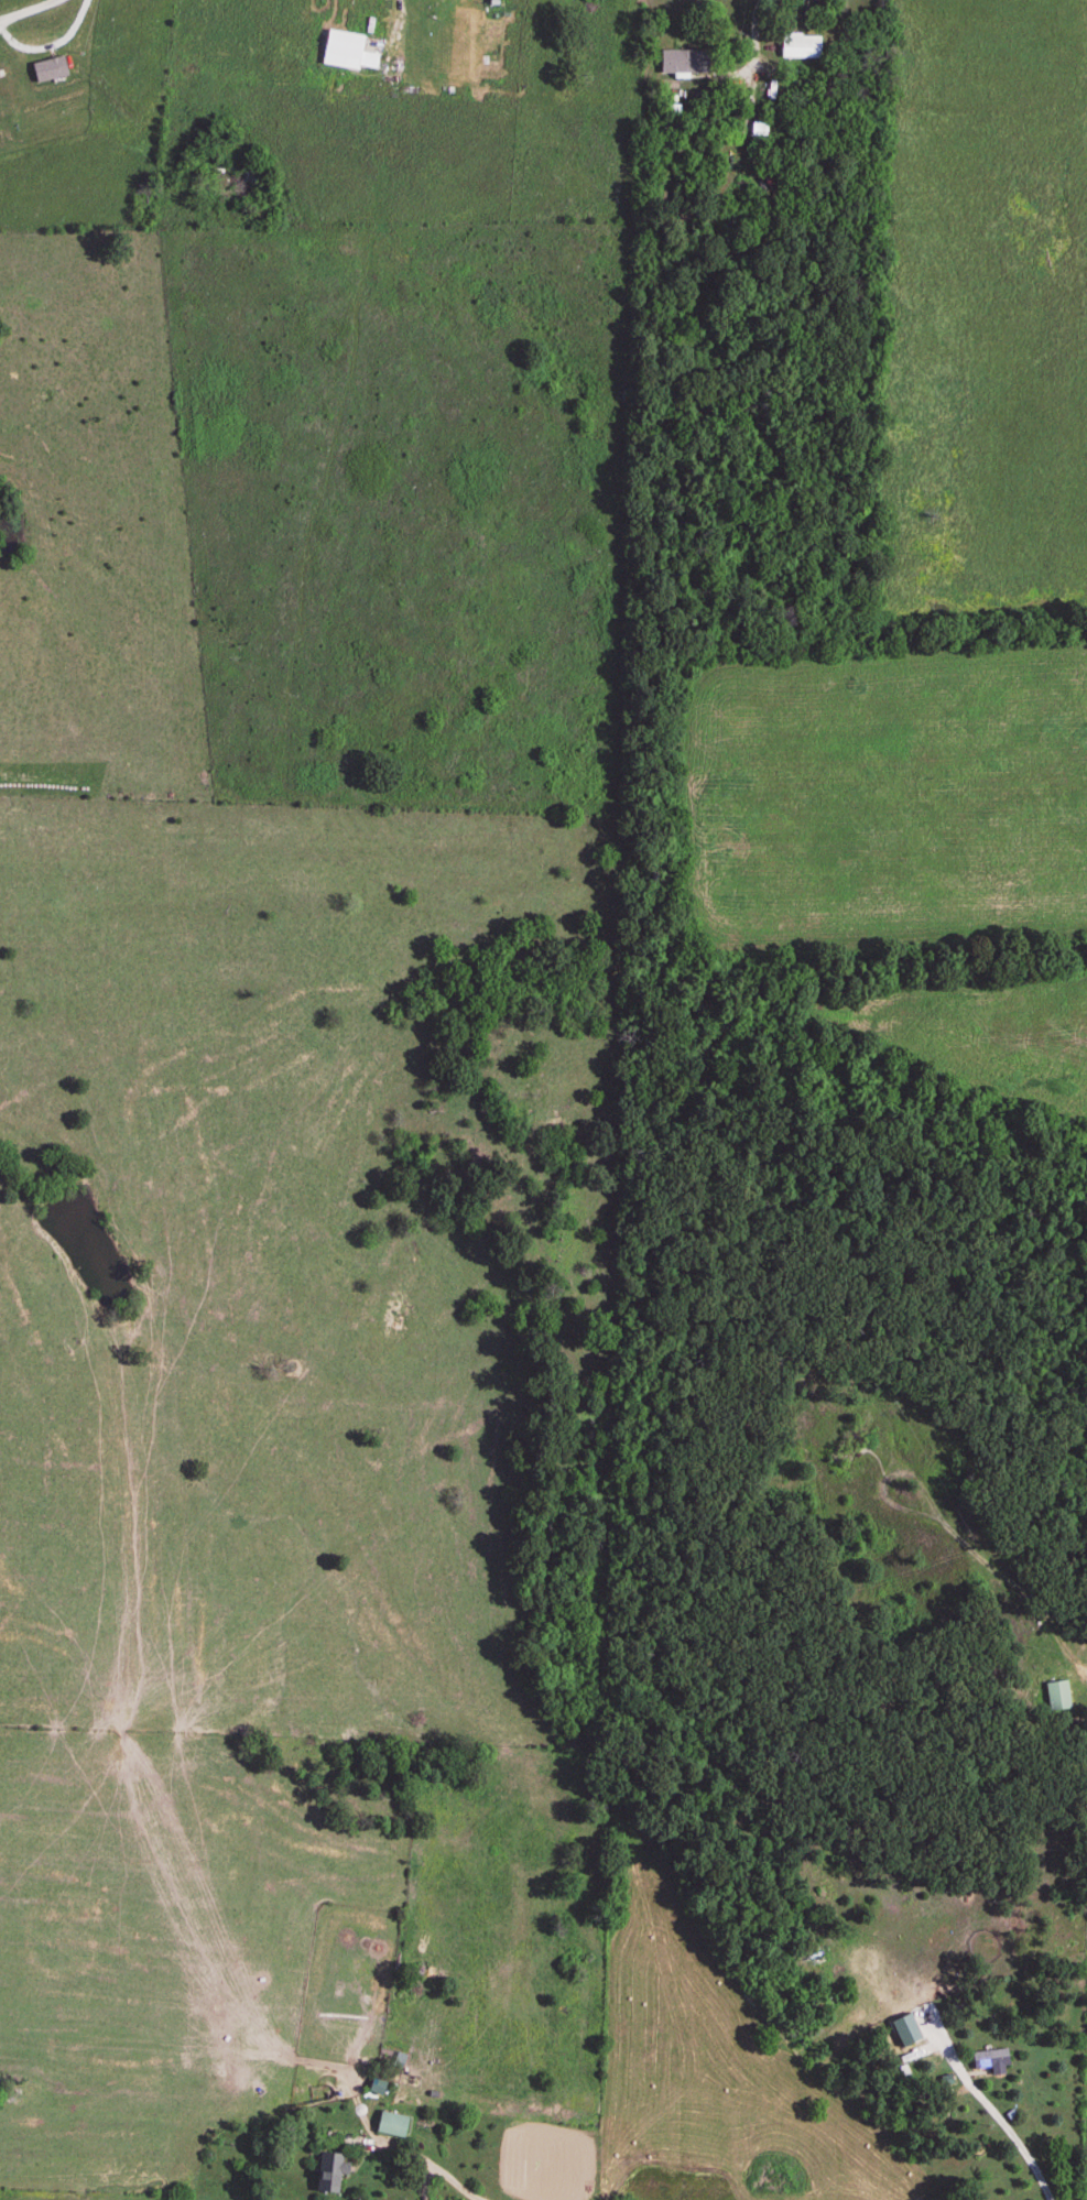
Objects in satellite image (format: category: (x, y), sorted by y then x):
road: (25, 9)
road: (394, 15)
road: (758, 33)
building: (798, 46)
building: (346, 53)
building: (682, 62)
building: (1056, 1697)
building: (988, 2059)
building: (390, 2125)
road: (1029, 2153)
building: (330, 2172)

